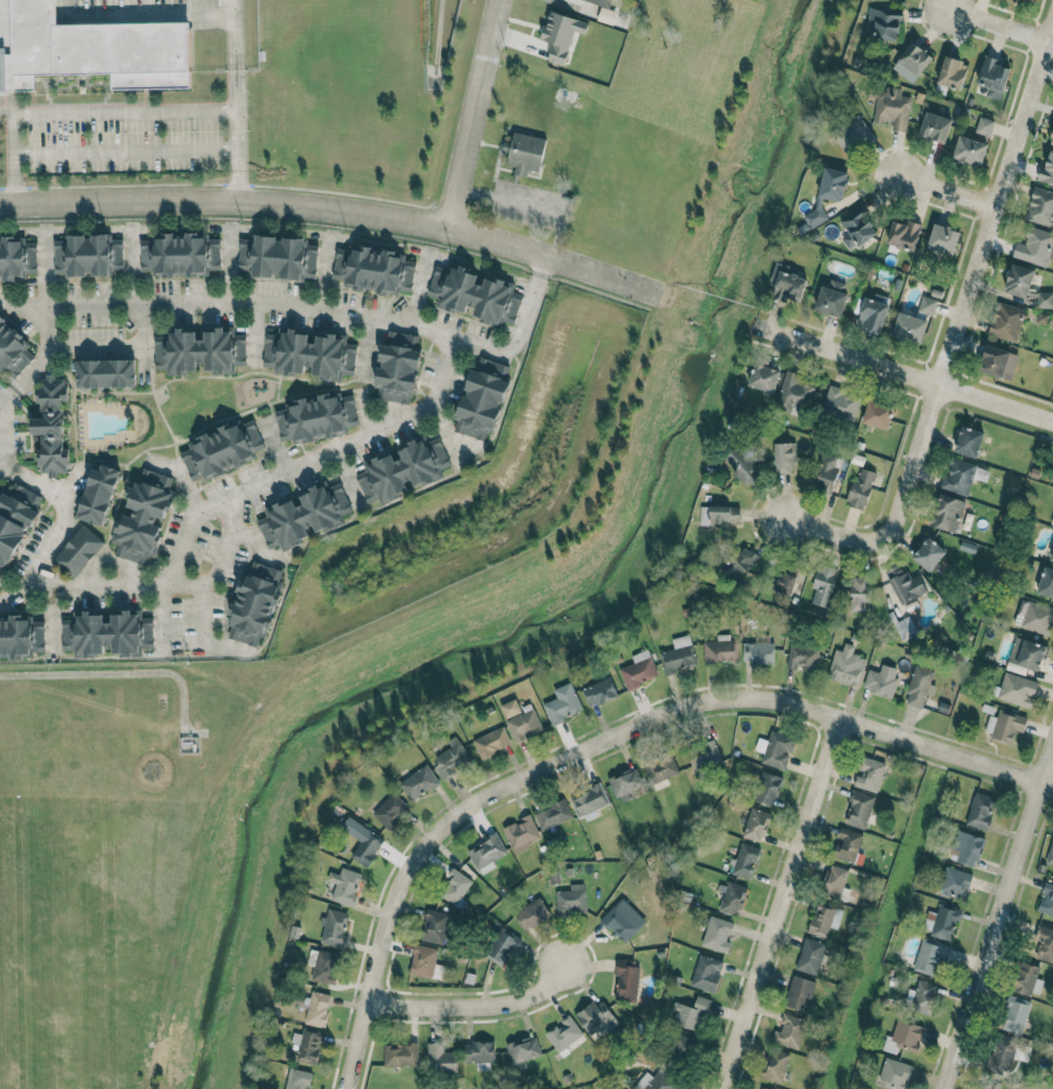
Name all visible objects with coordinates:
building: (1028, 0)
building: (601, 2)
road: (995, 22)
building: (884, 23)
building: (560, 35)
building: (84, 55)
road: (232, 55)
building: (914, 59)
building: (951, 72)
building: (993, 78)
building: (891, 107)
road: (122, 111)
road: (477, 114)
building: (984, 126)
building: (935, 127)
building: (853, 135)
building: (1051, 139)
road: (123, 150)
building: (969, 151)
building: (525, 153)
building: (1046, 170)
road: (942, 187)
building: (827, 193)
road: (333, 206)
building: (1041, 206)
road: (530, 208)
building: (856, 227)
building: (903, 235)
building: (943, 239)
building: (1034, 247)
building: (87, 255)
building: (180, 255)
building: (277, 257)
building: (16, 258)
road: (228, 264)
road: (541, 264)
road: (130, 265)
building: (374, 270)
road: (324, 271)
building: (1018, 281)
building: (789, 284)
road: (45, 287)
road: (418, 287)
building: (474, 295)
building: (831, 297)
building: (1044, 299)
road: (295, 305)
building: (927, 305)
building: (873, 312)
building: (1006, 321)
building: (909, 328)
road: (253, 334)
road: (955, 339)
road: (142, 342)
road: (365, 346)
road: (68, 348)
building: (12, 351)
building: (199, 351)
building: (309, 354)
building: (997, 362)
building: (398, 368)
building: (105, 374)
road: (907, 374)
building: (764, 378)
building: (793, 393)
road: (7, 395)
building: (482, 402)
building: (840, 403)
road: (364, 411)
building: (877, 414)
building: (316, 418)
road: (446, 435)
building: (969, 441)
road: (273, 445)
building: (221, 450)
road: (309, 458)
building: (784, 458)
building: (742, 466)
road: (7, 467)
building: (402, 470)
building: (826, 474)
road: (344, 476)
road: (180, 480)
road: (70, 483)
building: (860, 489)
building: (97, 495)
road: (387, 501)
building: (946, 512)
road: (227, 513)
building: (721, 514)
building: (305, 516)
building: (143, 517)
building: (14, 522)
road: (55, 533)
building: (78, 551)
building: (928, 554)
building: (1052, 556)
building: (740, 563)
building: (1046, 579)
building: (784, 581)
road: (180, 583)
building: (904, 583)
building: (823, 587)
building: (857, 593)
building: (253, 604)
road: (52, 618)
building: (1036, 618)
road: (158, 619)
building: (107, 634)
building: (21, 637)
road: (199, 640)
building: (720, 649)
building: (758, 651)
building: (1027, 653)
building: (678, 654)
building: (803, 658)
building: (847, 666)
building: (639, 670)
building: (880, 680)
building: (919, 687)
building: (1014, 688)
building: (599, 691)
building: (563, 703)
building: (510, 708)
building: (523, 725)
building: (1006, 726)
building: (492, 742)
road: (612, 746)
building: (776, 749)
building: (703, 756)
building: (450, 758)
building: (660, 767)
building: (869, 774)
building: (418, 782)
building: (625, 783)
building: (767, 788)
building: (590, 802)
building: (859, 809)
building: (390, 810)
building: (980, 810)
building: (553, 815)
building: (756, 825)
building: (521, 833)
building: (362, 841)
building: (848, 844)
building: (966, 848)
building: (486, 851)
building: (1050, 853)
building: (745, 861)
building: (833, 881)
building: (955, 881)
building: (344, 886)
building: (454, 887)
building: (731, 898)
building: (1046, 899)
building: (571, 900)
road: (786, 902)
building: (532, 913)
building: (825, 919)
building: (942, 922)
road: (1001, 922)
building: (619, 923)
building: (436, 925)
building: (333, 926)
building: (717, 934)
building: (1044, 944)
building: (500, 946)
building: (811, 956)
building: (930, 956)
building: (326, 967)
building: (707, 973)
building: (1028, 979)
building: (626, 980)
building: (798, 993)
building: (920, 996)
road: (481, 1002)
building: (318, 1008)
building: (690, 1014)
building: (1015, 1014)
building: (594, 1016)
building: (790, 1031)
building: (564, 1033)
building: (903, 1037)
building: (307, 1045)
building: (681, 1049)
building: (522, 1051)
building: (480, 1052)
building: (1002, 1053)
building: (401, 1054)
building: (440, 1058)
building: (774, 1065)
building: (895, 1074)
building: (297, 1079)
building: (656, 1081)

